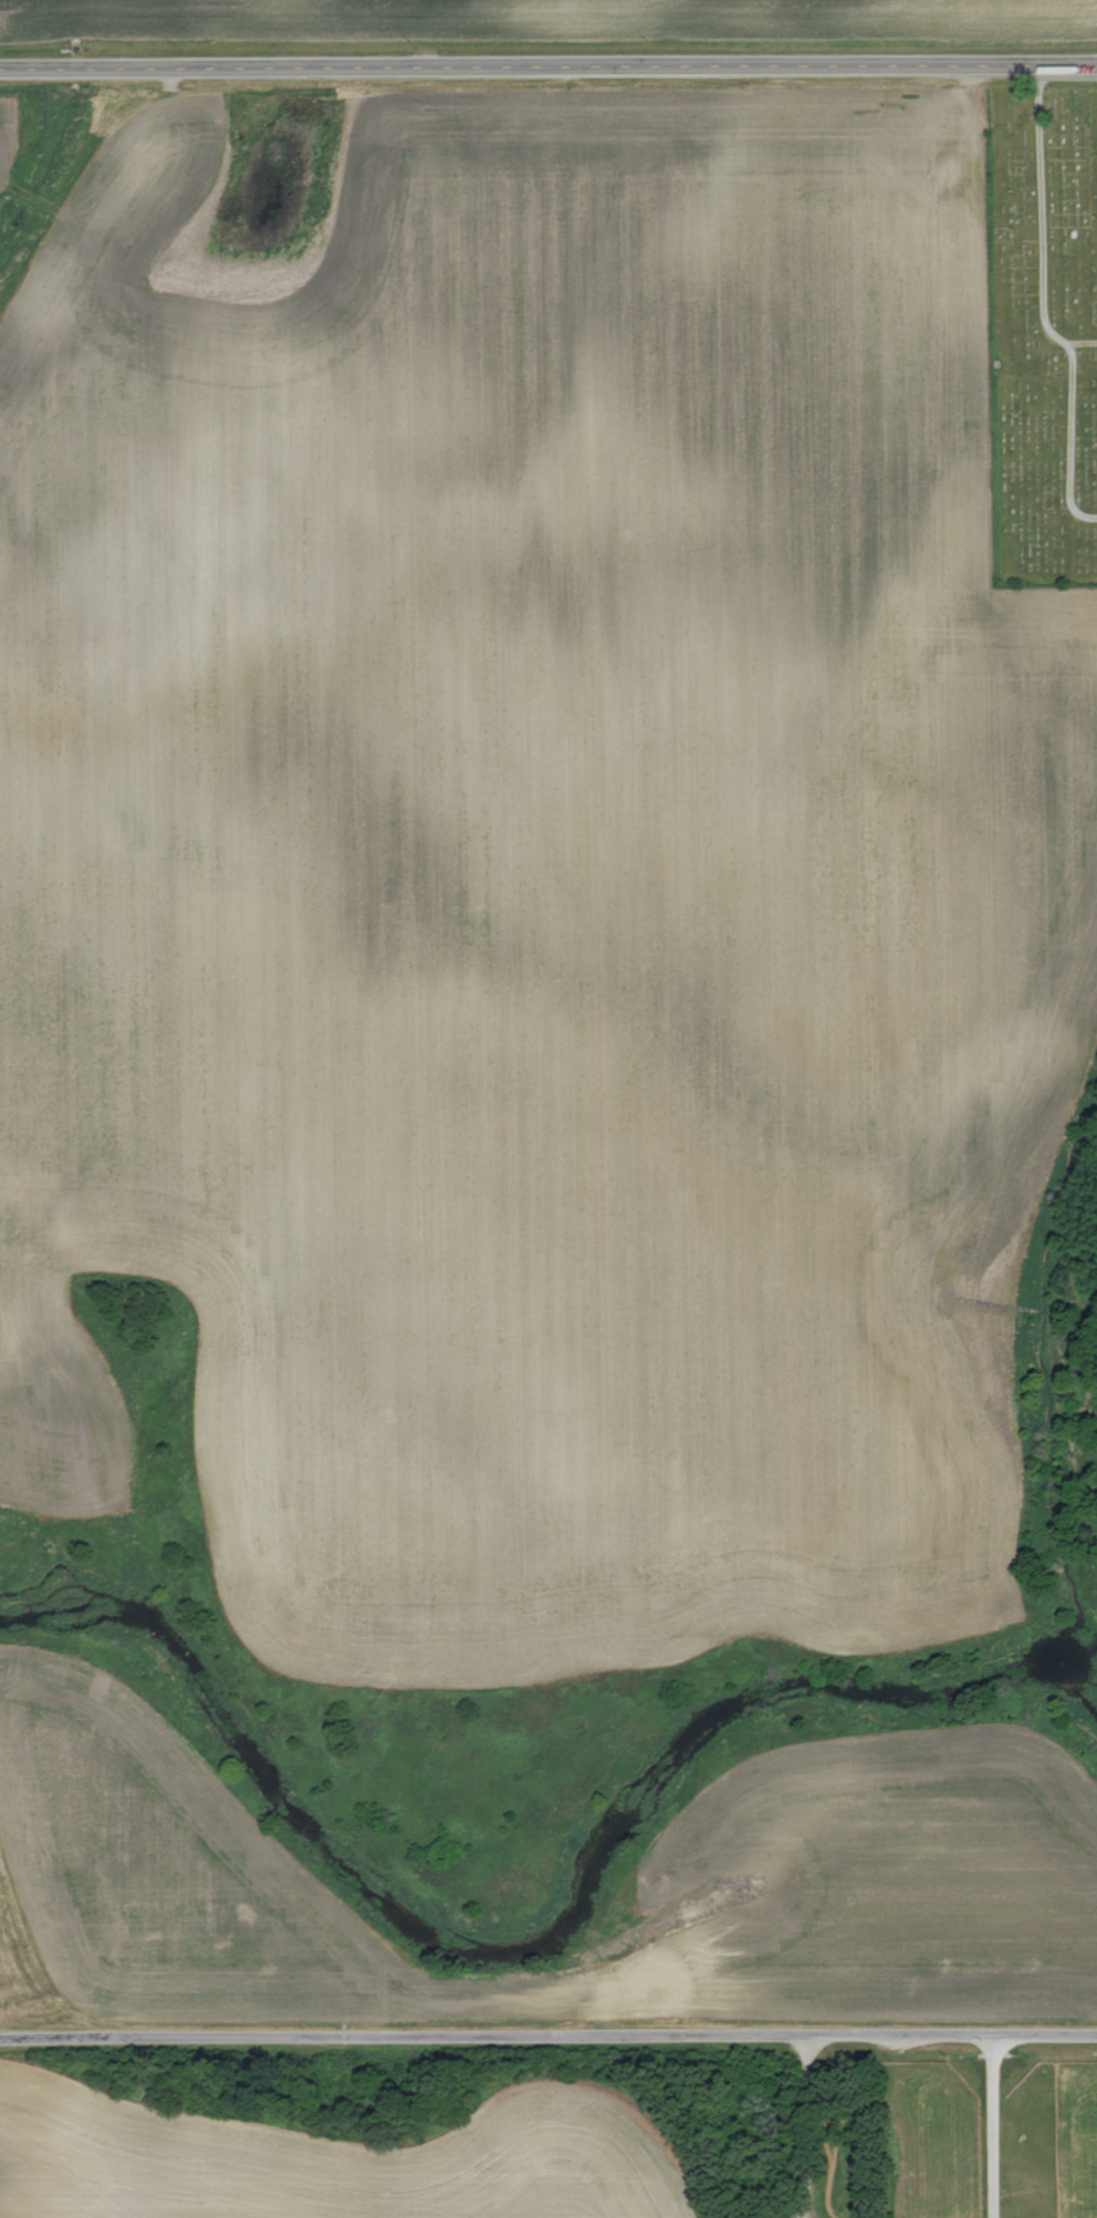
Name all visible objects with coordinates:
road: (548, 67)
park: (1042, 330)
road: (547, 2034)
road: (993, 2125)
road: (807, 2128)

